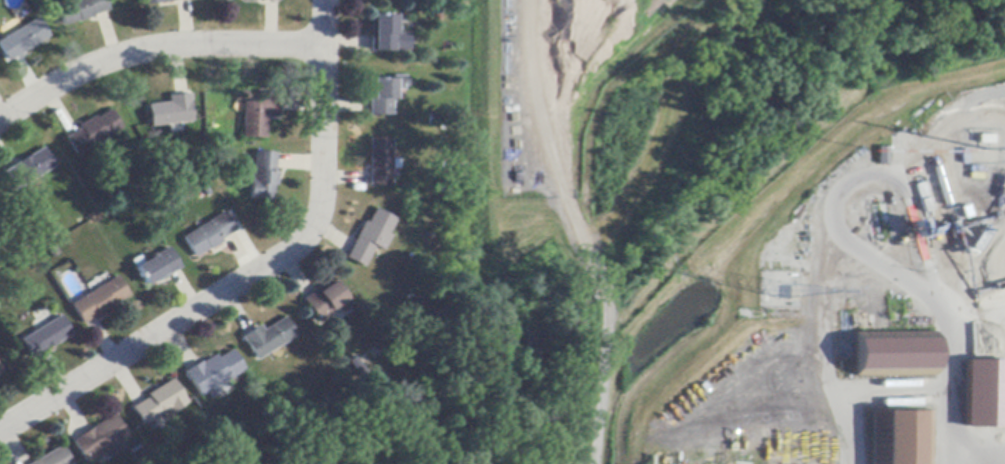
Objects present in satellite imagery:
building: (261, 0)
building: (157, 2)
building: (79, 10)
building: (385, 35)
building: (22, 40)
road: (152, 49)
building: (382, 95)
building: (169, 112)
building: (257, 115)
road: (321, 121)
building: (92, 133)
building: (881, 156)
building: (378, 163)
building: (28, 169)
building: (261, 177)
building: (207, 235)
building: (369, 238)
building: (156, 267)
building: (99, 301)
building: (325, 301)
road: (153, 335)
building: (45, 338)
building: (267, 338)
building: (892, 355)
building: (353, 368)
building: (0, 371)
building: (212, 374)
building: (983, 394)
building: (326, 401)
building: (157, 403)
building: (900, 438)
building: (98, 439)
building: (139, 456)
building: (54, 458)

